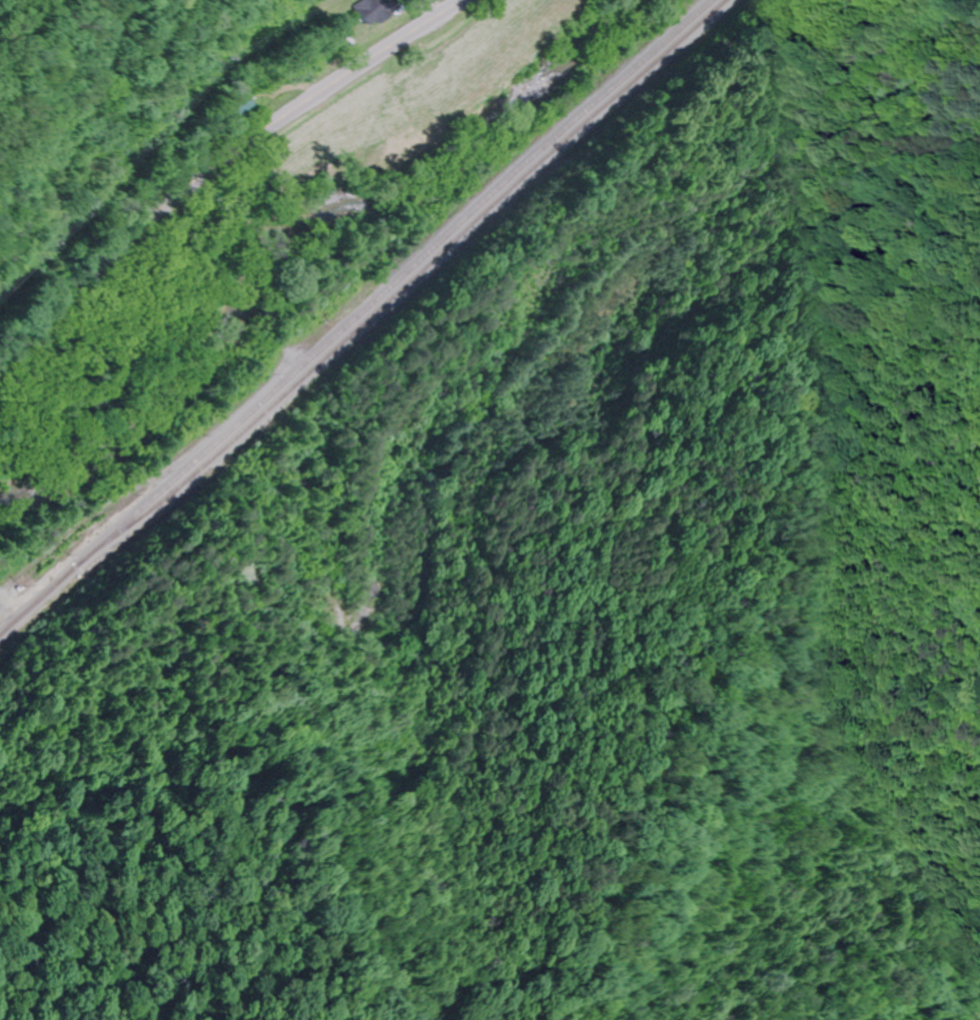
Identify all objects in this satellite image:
building: (378, 10)
building: (242, 106)
road: (216, 164)
river: (290, 226)
railway: (354, 319)

